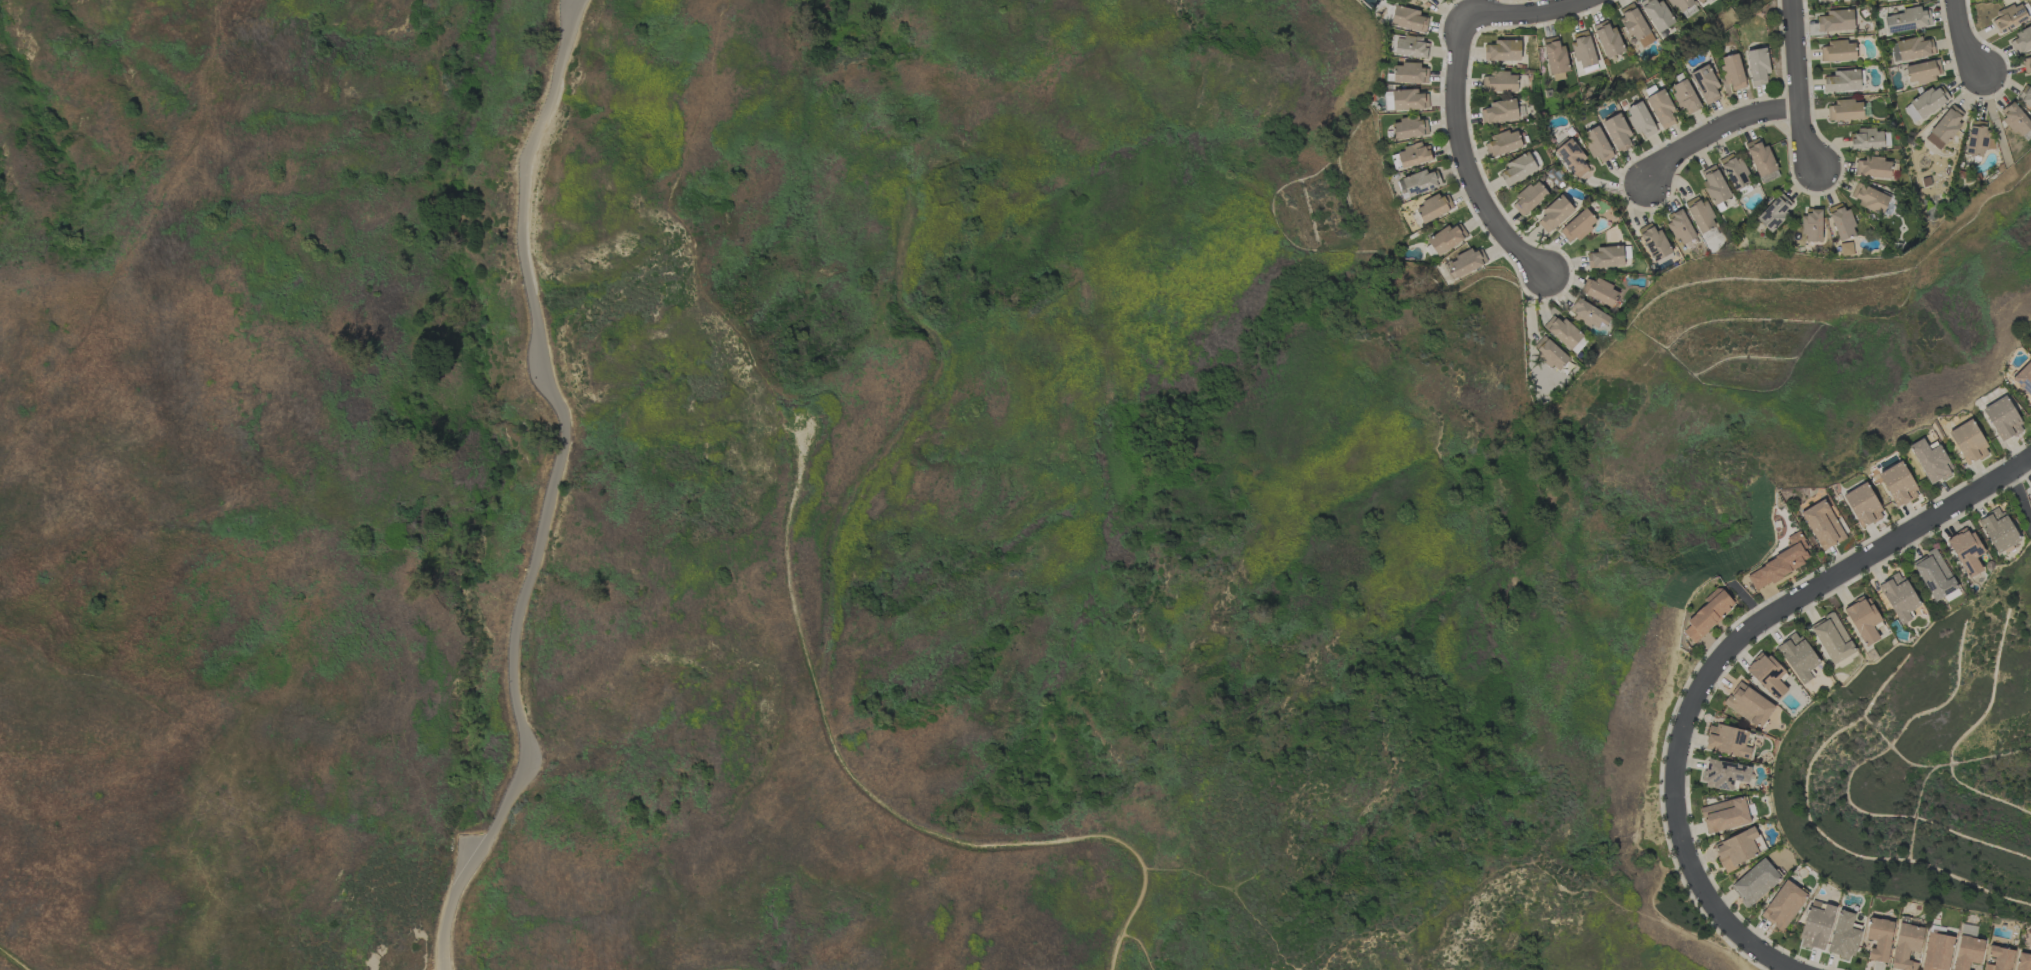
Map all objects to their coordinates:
building: (1824, 0)
building: (1698, 1)
building: (1680, 4)
building: (1656, 14)
road: (1529, 15)
building: (2009, 18)
building: (1408, 19)
building: (1835, 20)
building: (1908, 20)
building: (1635, 26)
road: (1962, 38)
building: (1607, 39)
building: (2021, 41)
building: (1411, 47)
building: (1911, 49)
building: (1502, 50)
building: (1838, 51)
building: (1583, 52)
building: (1555, 57)
building: (2026, 65)
building: (1757, 66)
building: (1732, 71)
building: (1923, 71)
building: (1409, 74)
building: (1842, 81)
building: (1499, 82)
building: (1705, 84)
road: (1799, 87)
building: (2025, 96)
building: (1684, 97)
building: (1408, 100)
building: (1925, 104)
building: (1661, 108)
building: (1845, 110)
building: (1499, 112)
building: (2015, 119)
building: (1640, 120)
building: (1944, 127)
building: (1409, 128)
road: (1716, 131)
building: (1617, 132)
building: (1865, 139)
building: (1978, 139)
building: (1502, 144)
building: (1597, 144)
building: (1414, 155)
building: (1571, 158)
building: (1761, 161)
road: (1464, 162)
building: (1872, 167)
building: (1517, 169)
building: (1734, 171)
building: (1417, 183)
power tower: (927, 184)
building: (1713, 185)
building: (1528, 198)
building: (1869, 198)
building: (1433, 207)
building: (1554, 213)
building: (1774, 213)
building: (1699, 214)
building: (1842, 223)
building: (1577, 226)
building: (1811, 226)
building: (1680, 227)
building: (1446, 239)
building: (1653, 242)
road: (134, 244)
building: (1845, 248)
building: (1605, 257)
building: (1467, 262)
building: (1599, 291)
building: (1587, 314)
building: (1565, 334)
building: (1549, 353)
building: (2024, 378)
power tower: (800, 411)
building: (2002, 418)
road: (901, 436)
building: (1930, 461)
building: (1897, 484)
road: (547, 485)
building: (2030, 488)
building: (1861, 505)
building: (1822, 525)
building: (1997, 530)
building: (1965, 551)
building: (1779, 563)
building: (1934, 575)
building: (1898, 597)
road: (1798, 601)
building: (1707, 614)
building: (1862, 620)
building: (1832, 638)
building: (1797, 657)
building: (1767, 675)
building: (1748, 705)
building: (1727, 741)
road: (226, 770)
building: (1723, 774)
road: (872, 802)
building: (1724, 815)
building: (1737, 849)
building: (1755, 882)
building: (1783, 905)
power tower: (416, 910)
road: (1718, 911)
building: (1816, 925)
building: (1843, 937)
building: (1879, 939)
building: (1906, 946)
road: (1139, 949)
building: (1936, 952)
building: (1967, 952)
building: (1999, 958)
road: (11, 960)
building: (2022, 962)

